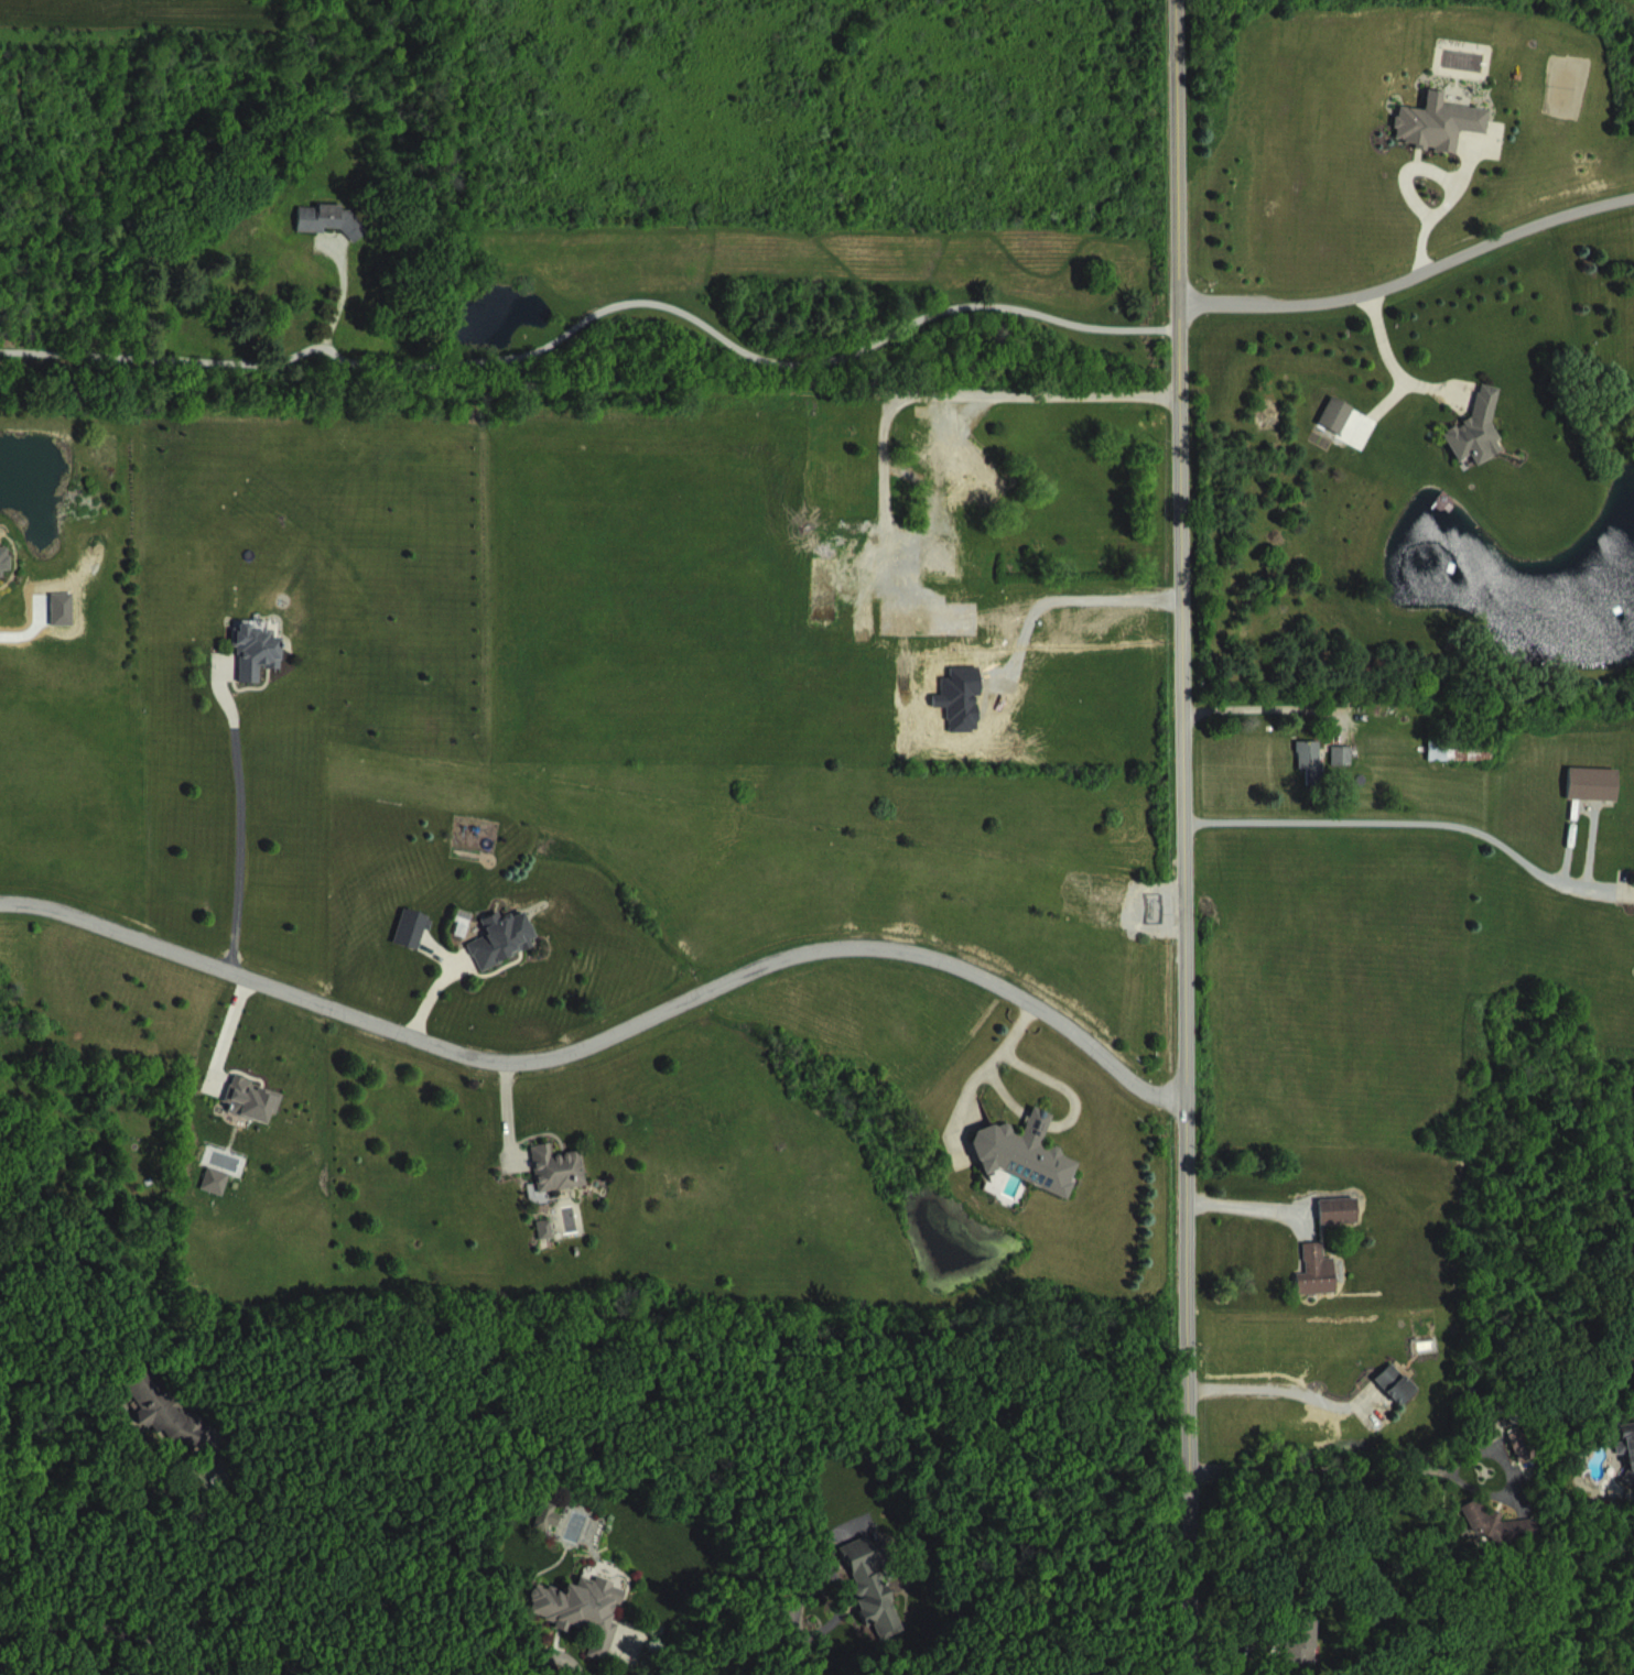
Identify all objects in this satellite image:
building: (1443, 140)
road: (1439, 208)
building: (336, 237)
road: (1411, 275)
road: (596, 336)
road: (1389, 360)
road: (896, 400)
building: (1342, 432)
building: (1482, 446)
building: (971, 487)
building: (949, 576)
building: (8, 577)
road: (1057, 597)
building: (870, 637)
building: (937, 637)
building: (261, 670)
road: (1258, 704)
building: (1467, 768)
building: (1348, 772)
building: (1316, 776)
building: (1598, 801)
road: (239, 808)
road: (1402, 820)
road: (1183, 837)
building: (418, 946)
building: (508, 956)
road: (606, 1035)
building: (259, 1118)
building: (1031, 1171)
building: (563, 1186)
building: (221, 1198)
road: (1244, 1206)
building: (1344, 1228)
building: (551, 1247)
building: (1322, 1288)
road: (1274, 1388)
building: (1400, 1401)
building: (169, 1431)
building: (1527, 1460)
road: (1329, 1467)
building: (553, 1533)
building: (1502, 1543)
road: (172, 1548)
building: (877, 1603)
building: (587, 1627)
road: (109, 1630)
road: (1240, 1630)
road: (801, 1633)
road: (550, 1651)
building: (1307, 1656)

